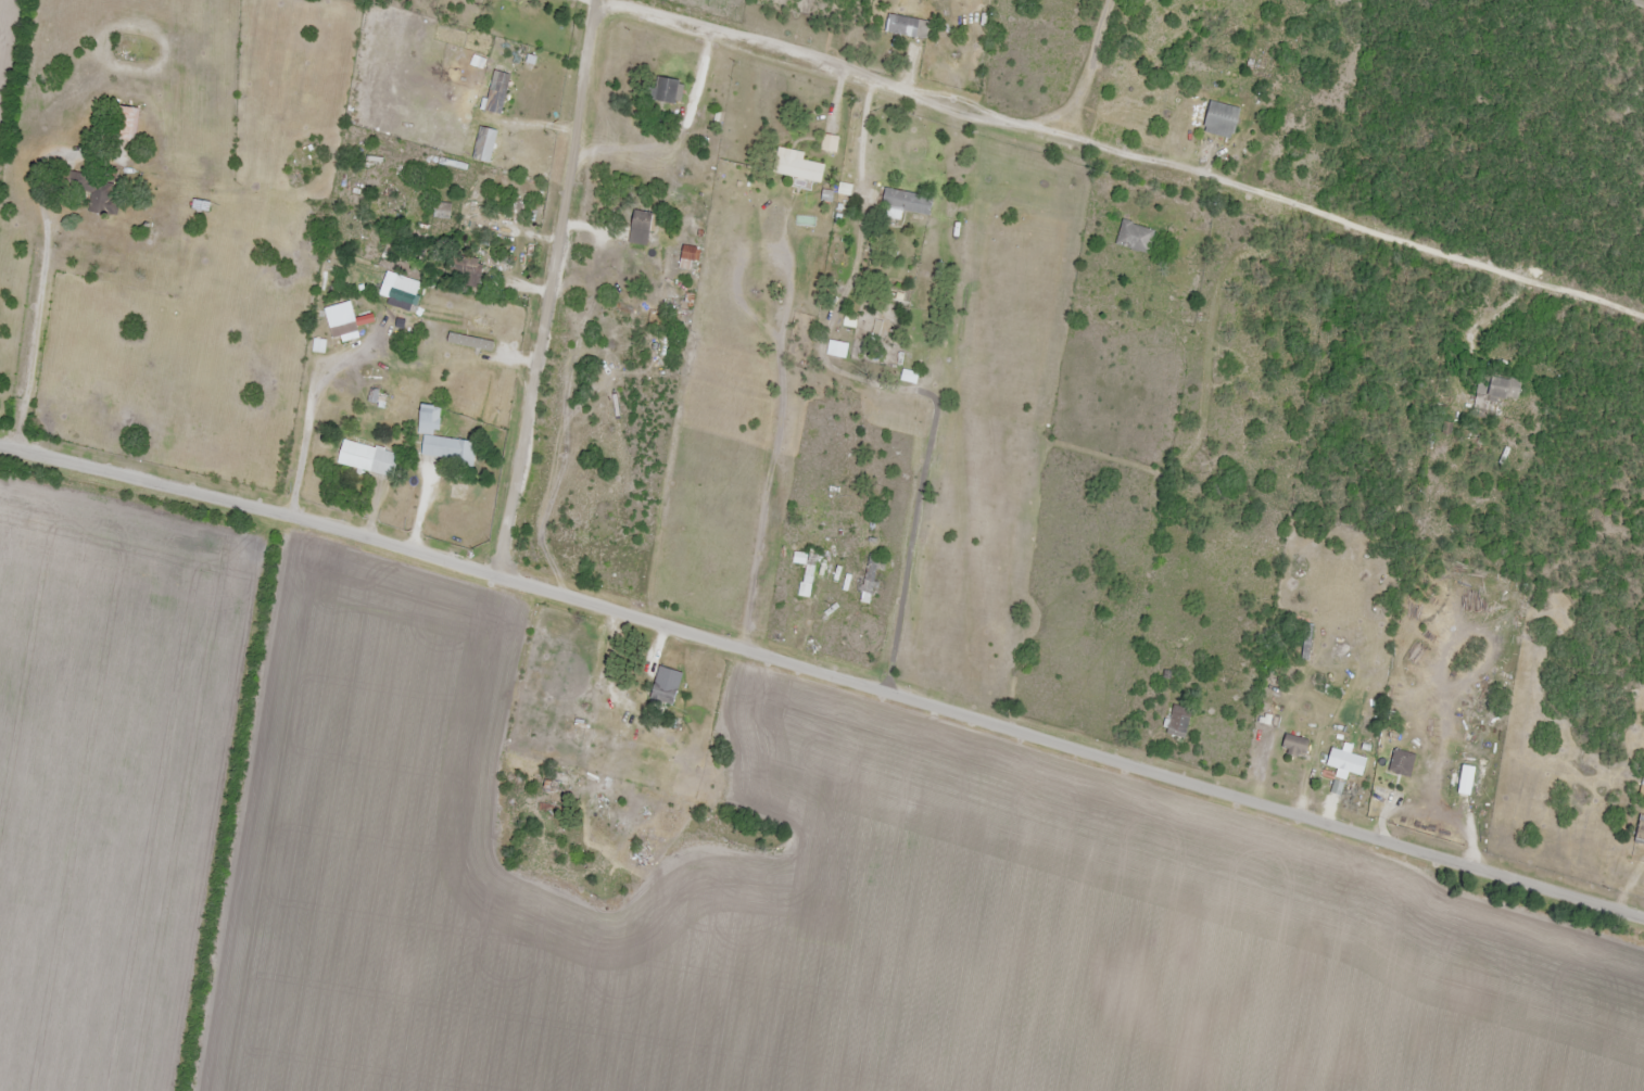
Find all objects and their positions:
building: (908, 27)
building: (663, 91)
building: (1221, 120)
road: (1118, 153)
building: (799, 169)
building: (475, 195)
building: (906, 203)
road: (533, 286)
building: (837, 351)
road: (884, 385)
building: (429, 420)
building: (368, 458)
building: (807, 573)
road: (822, 675)
building: (663, 695)
building: (1178, 725)

